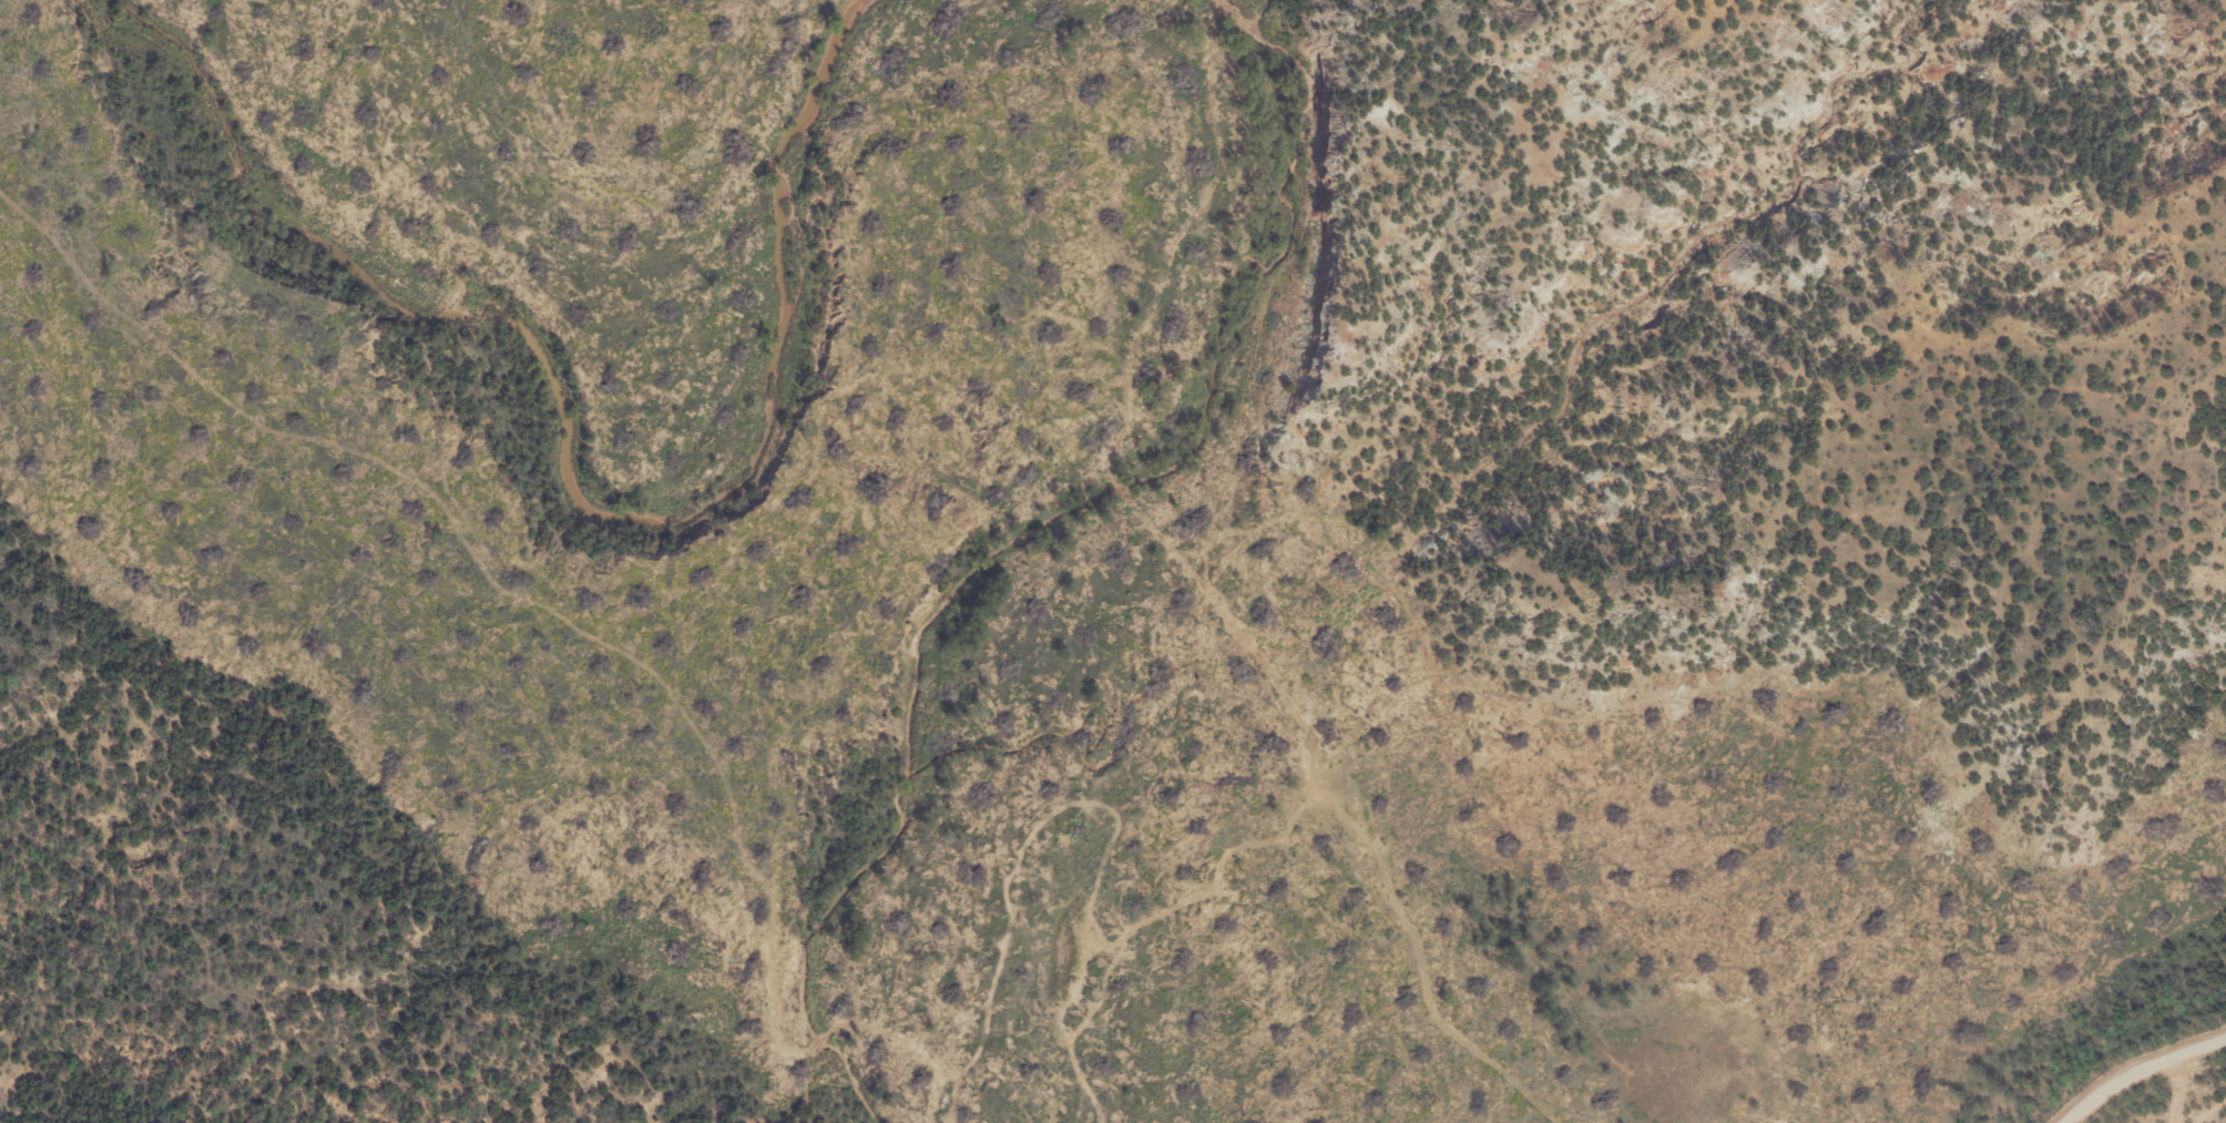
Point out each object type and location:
road: (2138, 1069)
road: (2185, 1085)

